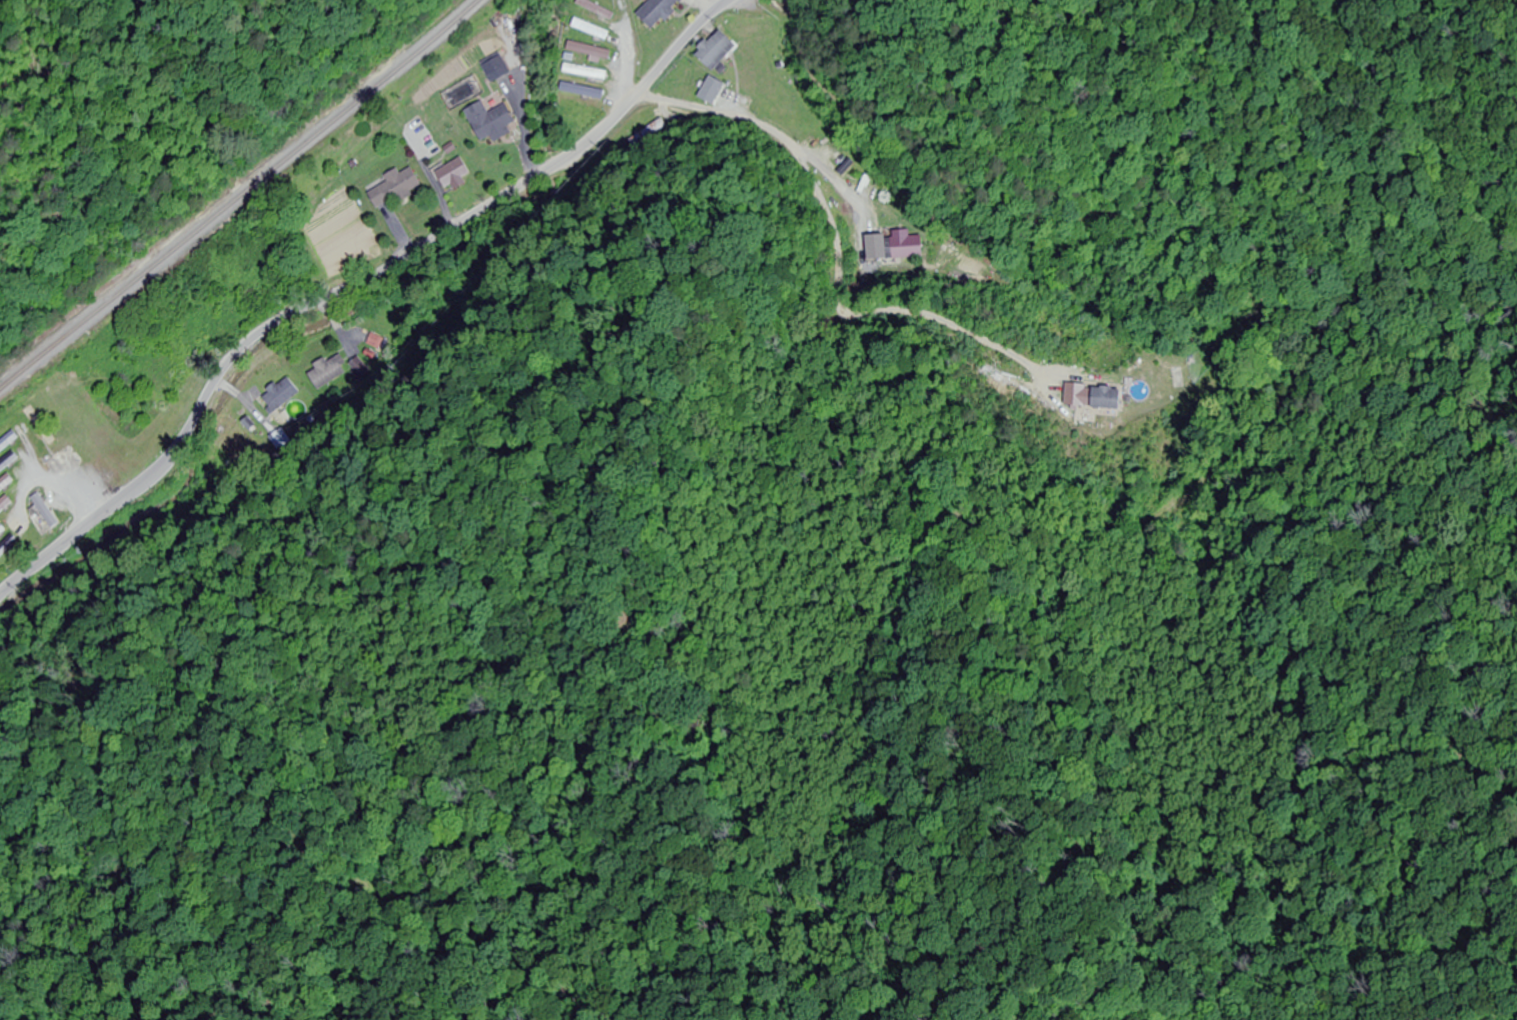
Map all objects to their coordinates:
building: (597, 9)
building: (660, 11)
building: (756, 29)
building: (592, 30)
building: (718, 50)
building: (590, 51)
building: (499, 69)
building: (587, 72)
building: (586, 91)
building: (711, 91)
building: (494, 123)
building: (647, 133)
building: (456, 175)
building: (397, 188)
railway: (239, 195)
building: (894, 247)
road: (350, 286)
building: (328, 372)
building: (281, 395)
building: (1096, 397)
building: (40, 427)
building: (8, 441)
building: (8, 461)
building: (6, 483)
road: (35, 490)
building: (5, 504)
building: (45, 514)
building: (2, 530)
building: (8, 546)

